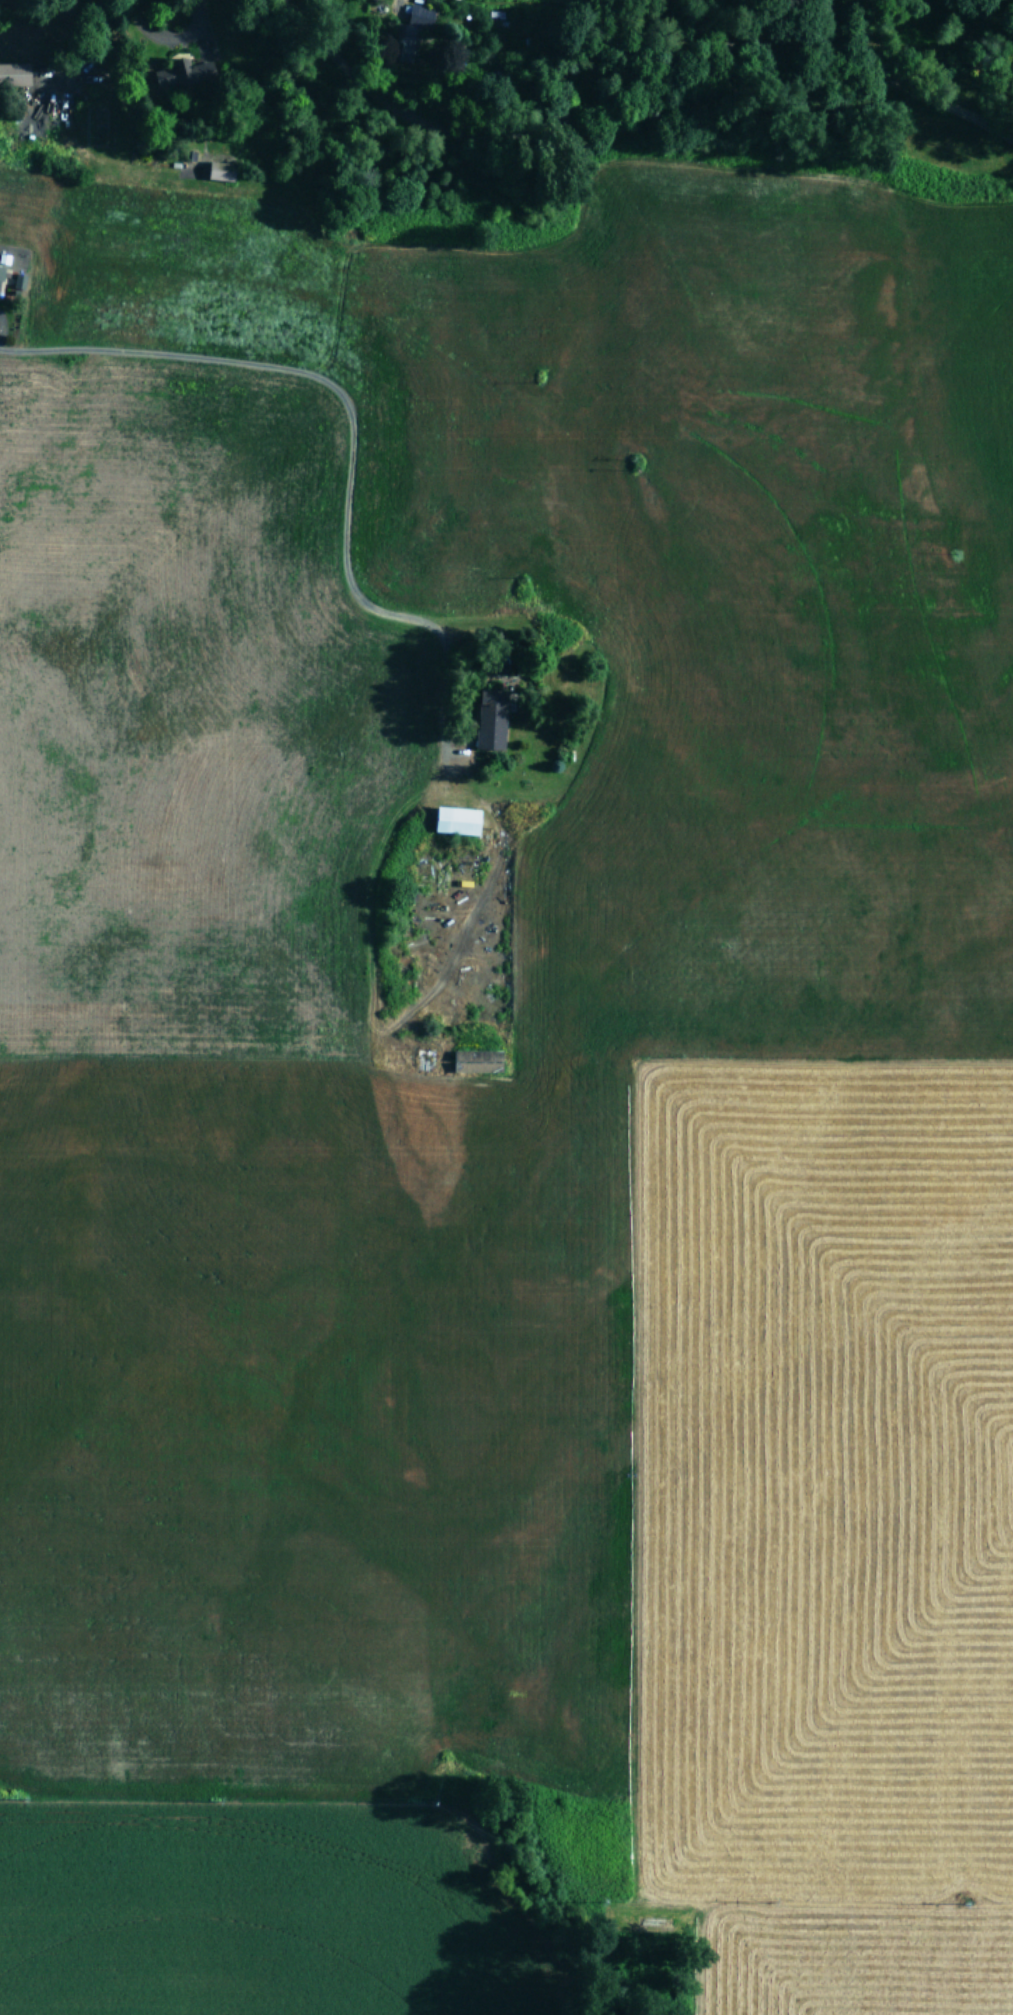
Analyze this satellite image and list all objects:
building: (411, 33)
building: (184, 73)
building: (14, 74)
road: (629, 80)
building: (221, 171)
building: (1, 275)
road: (367, 448)
building: (491, 720)
building: (457, 820)
crop: (504, 1087)

